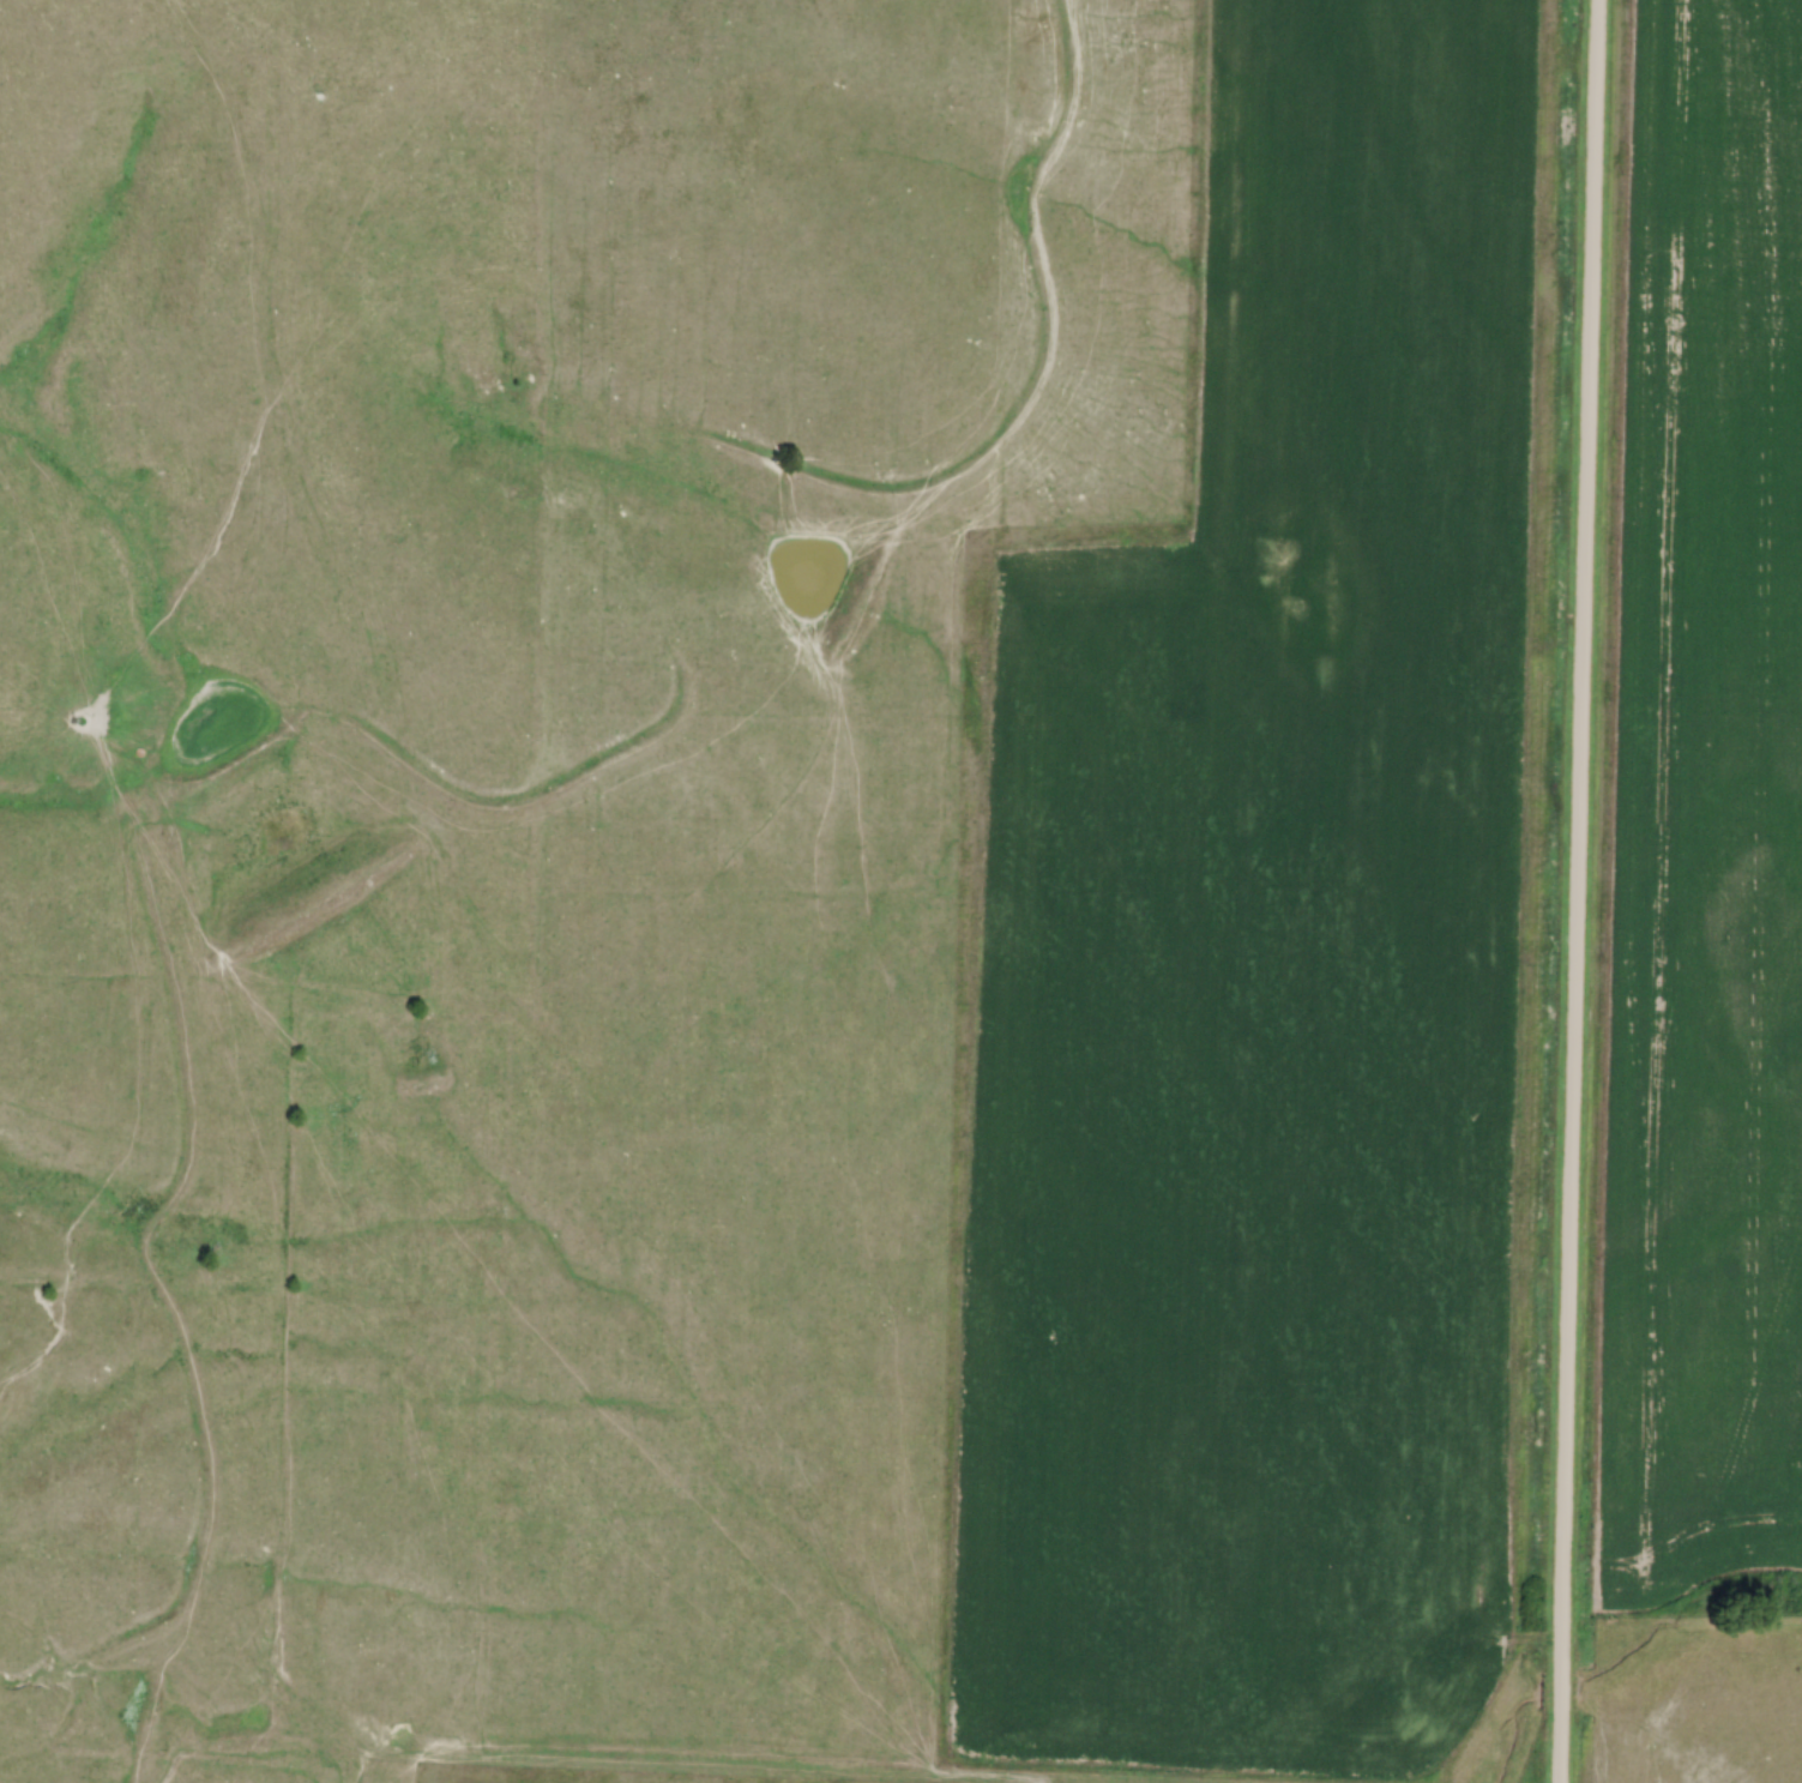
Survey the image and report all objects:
road: (1578, 891)

